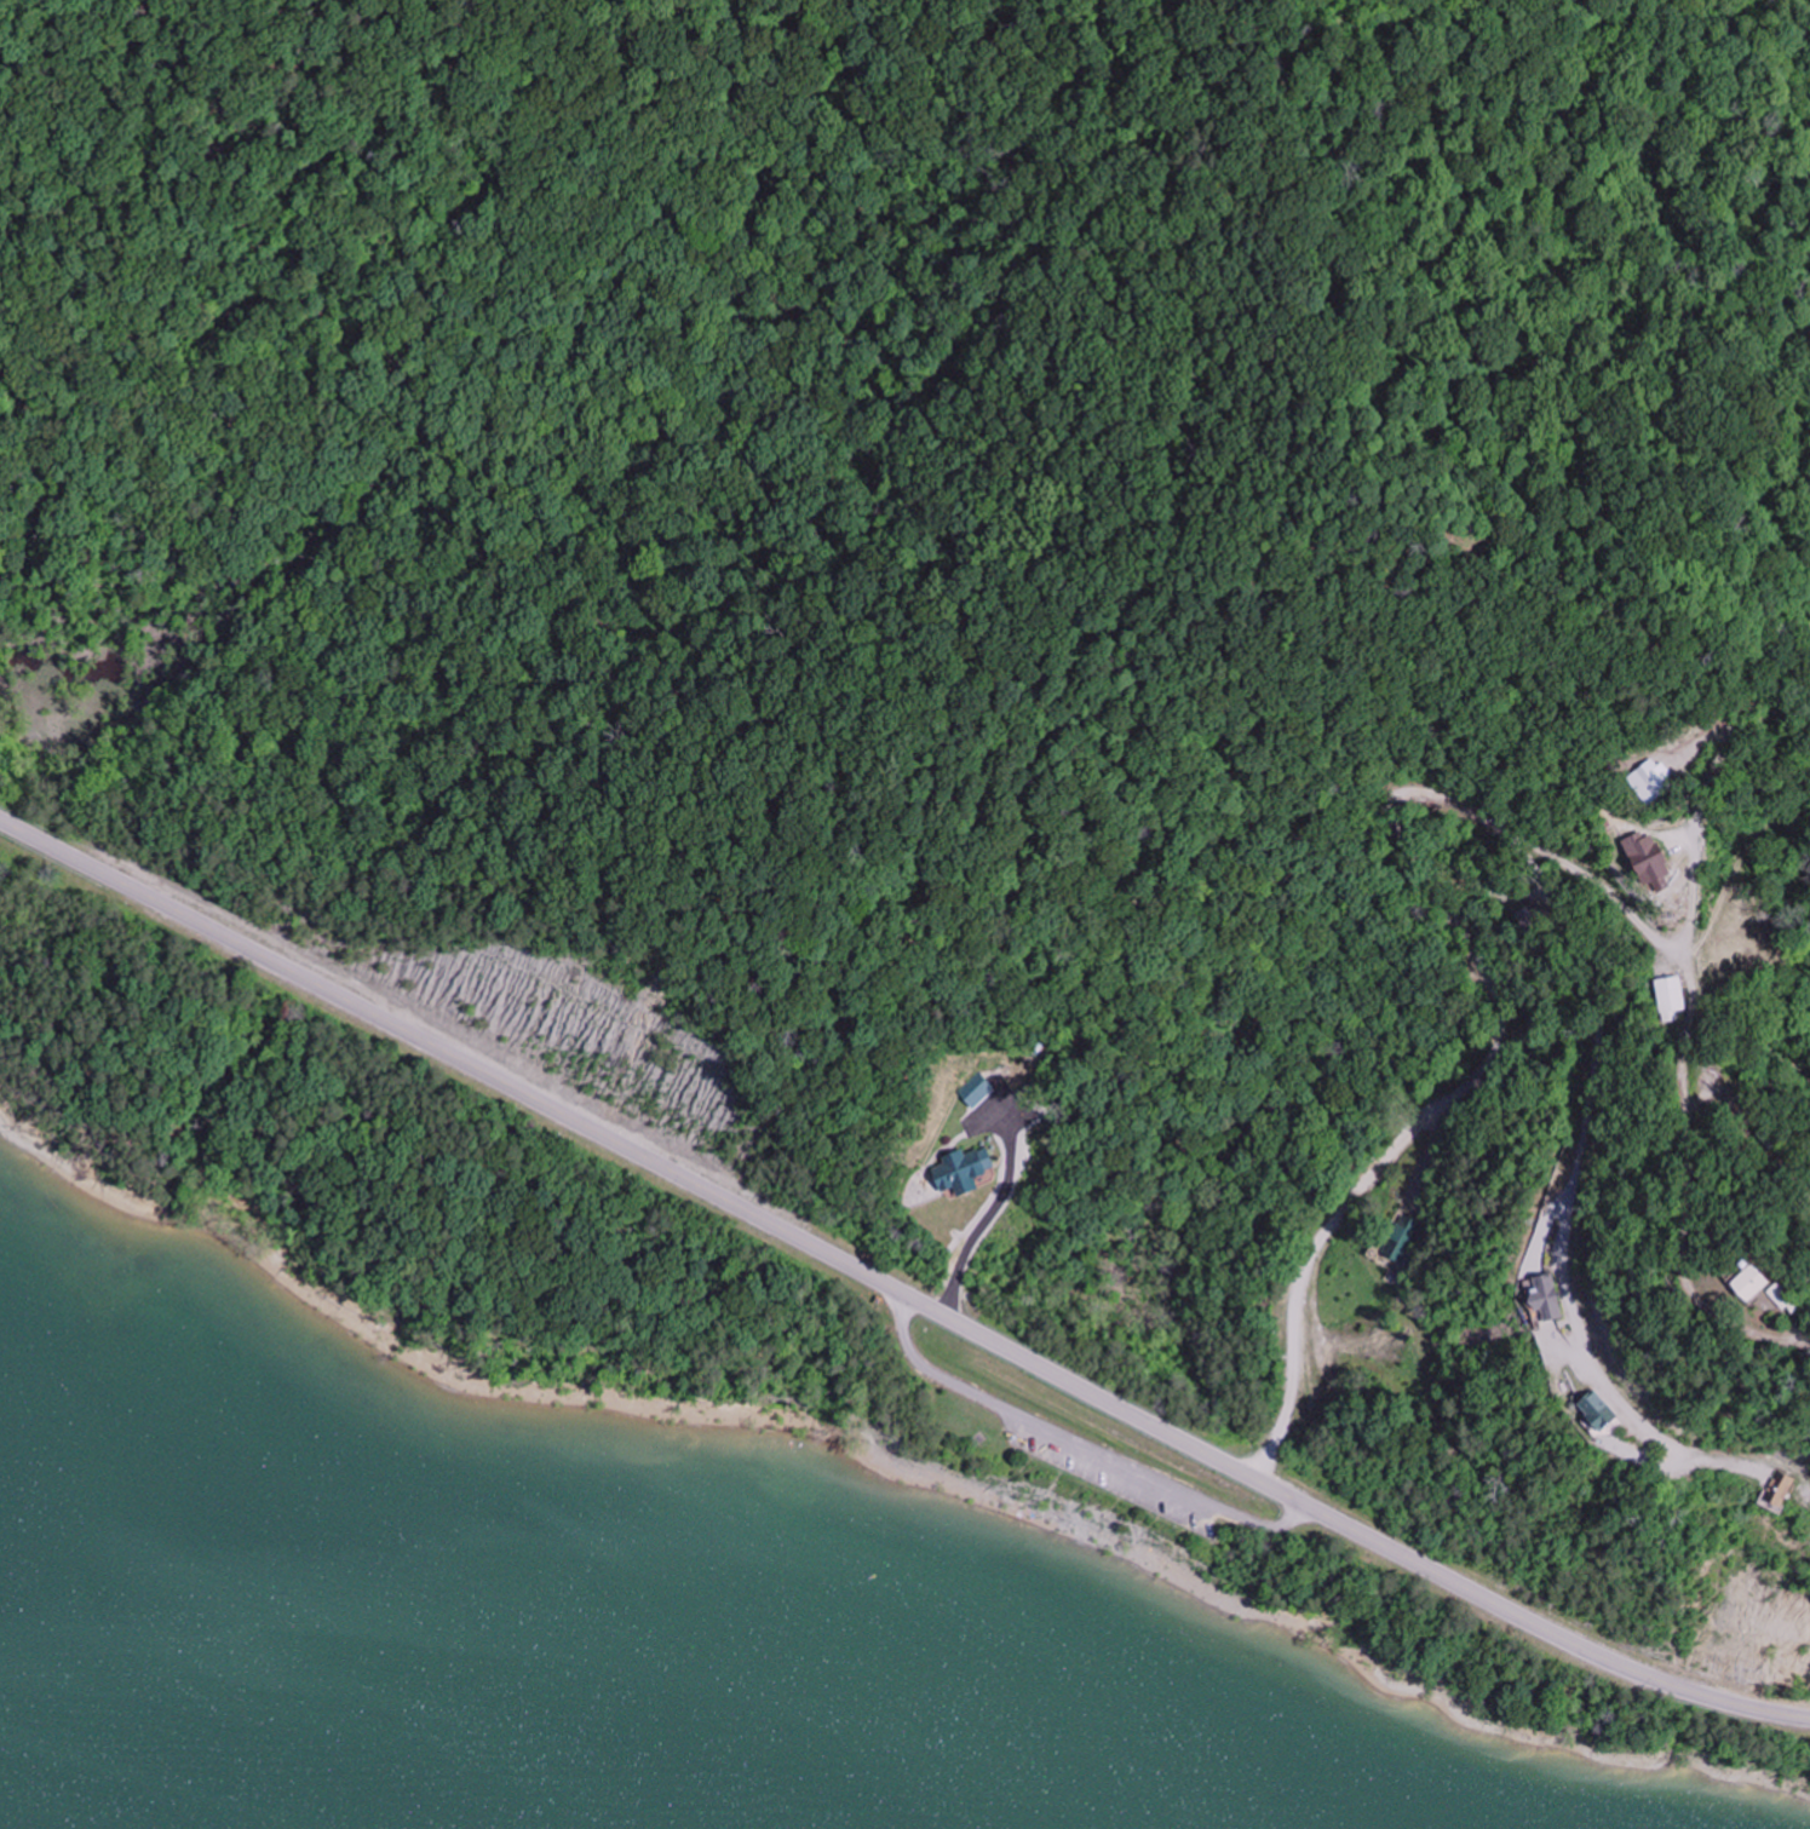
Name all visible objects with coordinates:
road: (1396, 782)
road: (1700, 886)
building: (1666, 993)
road: (1561, 1207)
road: (992, 1219)
building: (1713, 1283)
road: (896, 1290)
building: (1530, 1298)
building: (1747, 1299)
building: (1573, 1409)
road: (1076, 1438)
parking lot: (1122, 1469)
building: (1759, 1492)

